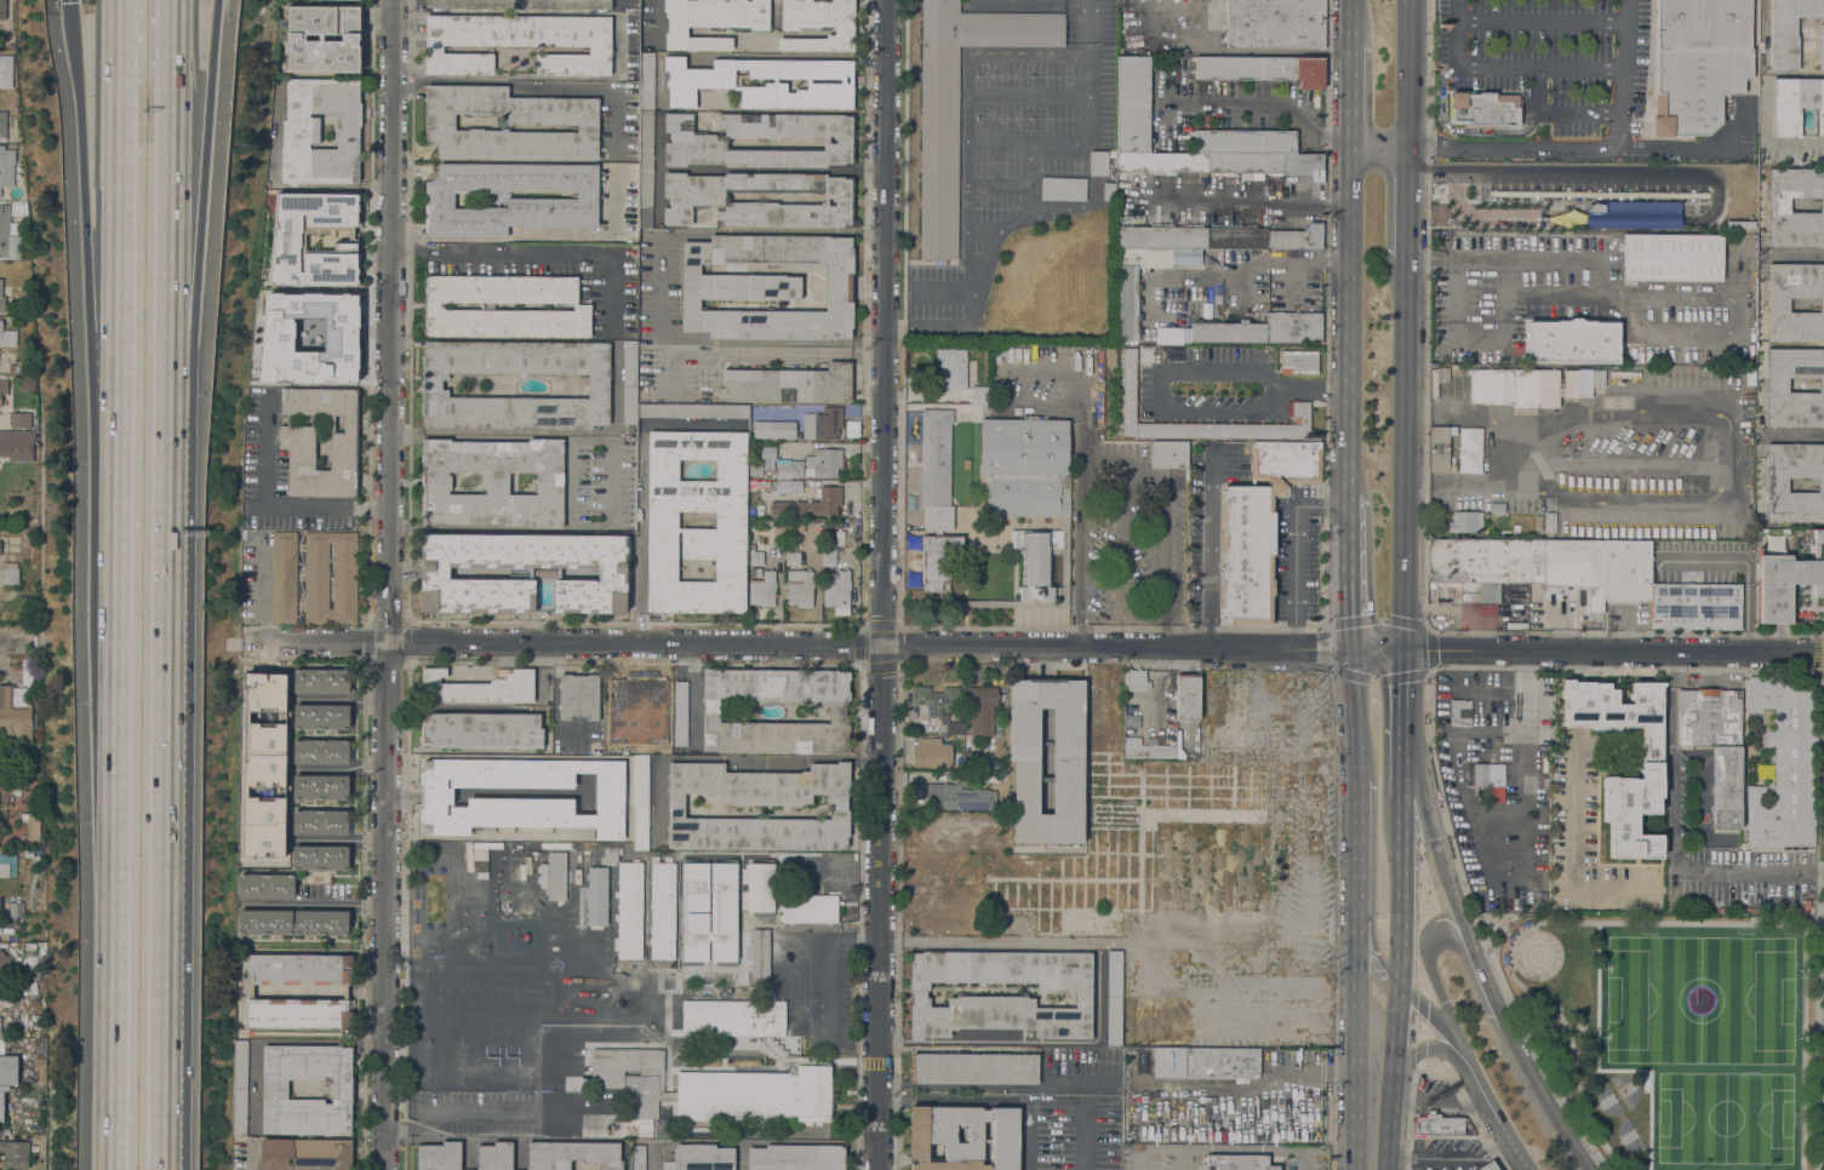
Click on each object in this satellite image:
building: (281, 0)
parking lot: (281, 0)
road: (73, 1)
traffic signals: (74, 2)
building: (520, 4)
building: (2, 10)
road: (1354, 19)
building: (711, 21)
road: (1091, 22)
road: (1540, 22)
building: (818, 24)
building: (1275, 24)
building: (1700, 24)
building: (1791, 31)
road: (1458, 34)
road: (213, 35)
building: (322, 39)
building: (518, 42)
road: (616, 45)
road: (168, 55)
parking lot: (1550, 57)
building: (1262, 69)
road: (1539, 69)
road: (1406, 73)
road: (1623, 74)
building: (0, 76)
building: (699, 82)
building: (1694, 87)
road: (536, 90)
road: (121, 91)
road: (1351, 92)
building: (956, 103)
road: (1274, 103)
building: (1132, 104)
building: (1796, 104)
building: (1485, 109)
road: (1556, 114)
road: (80, 115)
building: (2, 124)
building: (509, 124)
road: (1462, 131)
building: (301, 136)
building: (646, 138)
building: (761, 140)
building: (1243, 142)
road: (1378, 145)
road: (1577, 148)
building: (1111, 154)
building: (1098, 164)
building: (1220, 164)
building: (6, 166)
road: (1568, 172)
building: (1063, 189)
building: (1108, 191)
building: (761, 199)
road: (1406, 201)
building: (551, 202)
road: (1253, 203)
building: (1778, 205)
building: (17, 208)
road: (1028, 208)
building: (1631, 213)
road: (1496, 217)
road: (722, 231)
road: (406, 234)
road: (465, 234)
road: (596, 234)
building: (8, 236)
building: (288, 236)
building: (1217, 237)
road: (541, 253)
building: (1185, 256)
road: (120, 257)
building: (1673, 257)
road: (102, 280)
building: (1134, 283)
building: (766, 287)
parking lot: (1578, 296)
building: (1, 300)
road: (1348, 303)
building: (1777, 304)
building: (433, 306)
road: (199, 308)
road: (1631, 311)
road: (171, 327)
building: (1263, 329)
building: (7, 337)
building: (308, 337)
road: (1462, 337)
building: (1572, 340)
road: (762, 354)
building: (1002, 354)
building: (1452, 366)
building: (949, 369)
road: (1172, 373)
building: (1437, 379)
building: (1751, 379)
building: (629, 380)
building: (28, 383)
building: (788, 384)
building: (1531, 385)
building: (1777, 385)
building: (595, 386)
building: (4, 388)
building: (1213, 392)
building: (978, 395)
building: (692, 409)
building: (807, 409)
building: (21, 420)
building: (822, 424)
building: (773, 429)
building: (296, 440)
building: (17, 445)
building: (1439, 449)
building: (1469, 451)
road: (1403, 452)
building: (1168, 454)
road: (1515, 455)
road: (1726, 457)
building: (824, 463)
building: (767, 465)
building: (1023, 465)
road: (119, 468)
building: (788, 469)
building: (936, 470)
road: (1122, 475)
building: (491, 482)
road: (640, 482)
road: (612, 483)
building: (1776, 484)
building: (789, 487)
building: (811, 503)
road: (271, 504)
building: (1497, 507)
road: (1425, 511)
building: (730, 520)
building: (1465, 521)
building: (1550, 522)
building: (1257, 528)
building: (778, 530)
building: (4, 546)
road: (1210, 547)
road: (881, 550)
road: (1294, 550)
building: (833, 551)
road: (1346, 556)
building: (755, 557)
building: (791, 557)
building: (1031, 564)
building: (1521, 564)
building: (33, 567)
building: (754, 572)
building: (10, 574)
building: (544, 574)
building: (316, 575)
building: (284, 577)
building: (1786, 580)
road: (388, 584)
building: (799, 587)
building: (761, 590)
building: (836, 590)
building: (1696, 606)
road: (934, 607)
building: (753, 615)
traffic signals: (1349, 616)
road: (1113, 627)
road: (172, 632)
road: (13, 636)
road: (797, 646)
road: (1586, 652)
road: (1276, 660)
road: (1579, 666)
building: (1136, 679)
building: (320, 681)
traffic signals: (1402, 682)
building: (479, 687)
building: (617, 689)
road: (692, 694)
building: (578, 696)
building: (1187, 698)
building: (651, 704)
road: (1579, 704)
building: (939, 705)
building: (980, 709)
building: (710, 711)
building: (15, 712)
building: (1459, 712)
building: (680, 713)
building: (320, 717)
road: (1401, 721)
building: (619, 727)
building: (481, 730)
road: (1487, 730)
building: (1715, 745)
building: (651, 746)
building: (10, 750)
building: (1147, 750)
building: (320, 751)
building: (931, 753)
building: (1023, 753)
road: (725, 758)
building: (972, 761)
building: (1785, 762)
road: (1353, 769)
building: (1649, 769)
building: (1531, 770)
building: (968, 778)
building: (1487, 780)
building: (320, 787)
building: (956, 797)
building: (4, 801)
building: (520, 802)
building: (640, 803)
building: (675, 808)
building: (320, 822)
building: (33, 826)
road: (1573, 849)
building: (482, 851)
building: (611, 854)
road: (1372, 855)
building: (319, 858)
building: (1539, 864)
building: (4, 870)
building: (502, 876)
building: (534, 876)
building: (556, 876)
road: (1515, 885)
road: (115, 887)
building: (265, 887)
road: (1400, 887)
building: (760, 888)
building: (596, 896)
building: (810, 908)
road: (1357, 908)
building: (629, 911)
building: (662, 911)
building: (709, 912)
road: (898, 917)
building: (263, 922)
building: (320, 923)
building: (1521, 927)
road: (1448, 930)
road: (999, 940)
road: (166, 945)
building: (759, 952)
road: (1474, 953)
building: (2, 964)
park: (1731, 976)
road: (830, 982)
road: (789, 986)
building: (344, 992)
building: (973, 996)
building: (1114, 998)
park: (1629, 998)
road: (1345, 1000)
road: (1397, 1008)
road: (1431, 1014)
park: (1671, 1030)
building: (1, 1046)
park: (1731, 1055)
building: (805, 1062)
building: (1140, 1062)
building: (1205, 1063)
building: (973, 1067)
road: (1463, 1068)
building: (8, 1069)
building: (40, 1069)
building: (630, 1076)
road: (1270, 1084)
building: (239, 1089)
building: (274, 1089)
park: (1626, 1089)
parking lot: (1434, 1094)
building: (667, 1095)
road: (1420, 1097)
park: (1607, 1100)
road: (915, 1101)
road: (1051, 1102)
road: (1390, 1102)
building: (1, 1106)
road: (1496, 1107)
road: (479, 1112)
building: (1436, 1125)
park: (1729, 1134)
road: (877, 1135)
park: (1628, 1135)
building: (964, 1137)
road: (1491, 1152)
building: (15, 1153)
building: (304, 1154)
building: (572, 1154)
building: (439, 1155)
building: (494, 1155)
building: (796, 1157)
road: (250, 1158)
building: (637, 1158)
building: (701, 1158)
road: (1429, 1158)
road: (1137, 1162)
road: (1179, 1162)
building: (1239, 1163)
road: (1304, 1163)
building: (1487, 1166)

